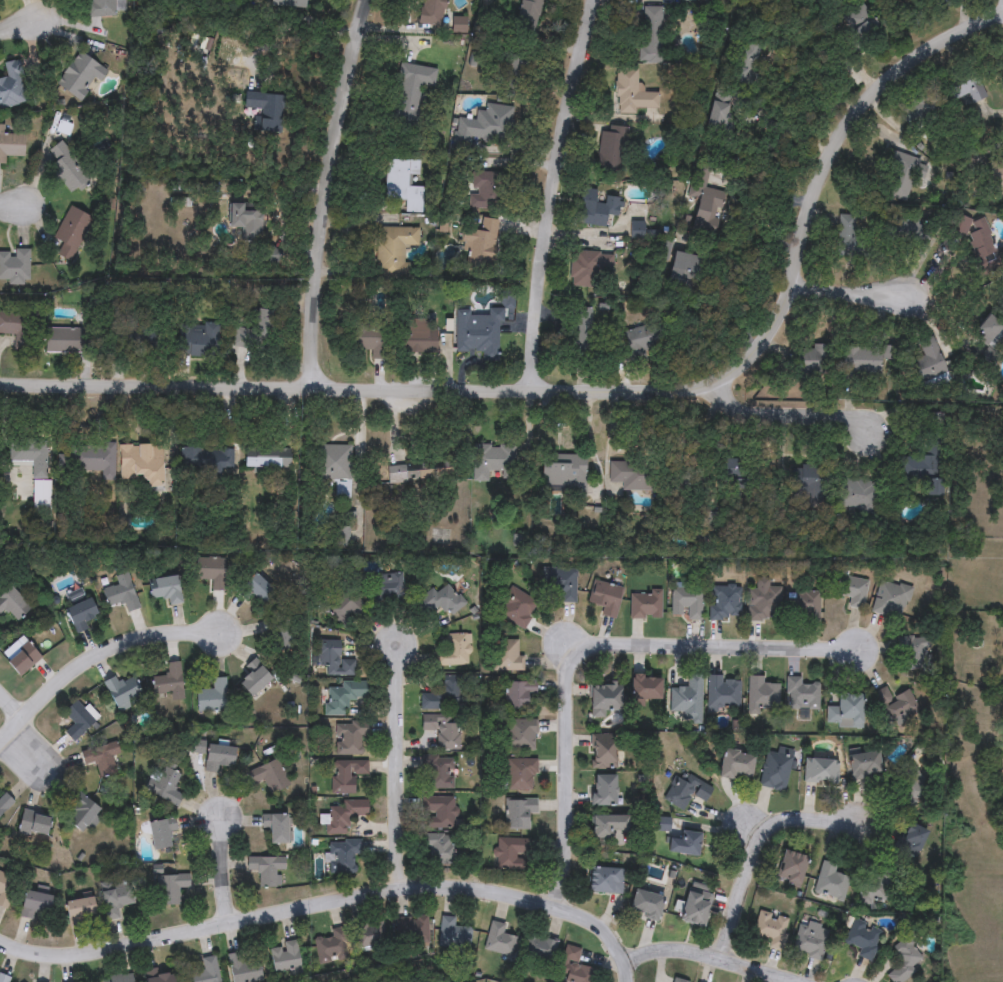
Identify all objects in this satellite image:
building: (289, 4)
building: (942, 4)
building: (102, 8)
building: (431, 12)
building: (461, 25)
road: (17, 26)
building: (861, 27)
building: (649, 32)
building: (78, 76)
building: (13, 86)
building: (963, 86)
building: (410, 91)
building: (632, 93)
building: (913, 115)
building: (485, 128)
road: (791, 134)
building: (10, 146)
building: (611, 150)
building: (68, 168)
building: (901, 177)
building: (995, 180)
building: (402, 184)
building: (487, 191)
road: (329, 193)
road: (552, 197)
building: (703, 203)
road: (18, 207)
building: (597, 208)
building: (246, 220)
building: (905, 230)
building: (71, 234)
building: (852, 240)
building: (981, 243)
building: (480, 247)
building: (393, 251)
building: (682, 263)
building: (14, 267)
building: (590, 270)
road: (847, 296)
building: (16, 328)
building: (257, 329)
building: (987, 331)
building: (582, 333)
building: (479, 334)
building: (415, 337)
building: (369, 339)
building: (197, 340)
building: (70, 341)
building: (135, 341)
building: (642, 341)
building: (866, 359)
building: (814, 361)
building: (928, 362)
road: (607, 398)
road: (793, 405)
building: (266, 459)
building: (88, 460)
building: (207, 460)
building: (491, 461)
building: (926, 462)
building: (333, 463)
building: (140, 466)
building: (35, 471)
building: (563, 472)
building: (418, 473)
building: (634, 474)
building: (808, 476)
building: (858, 500)
building: (211, 572)
building: (565, 586)
building: (389, 588)
building: (167, 590)
building: (256, 590)
building: (854, 592)
building: (121, 594)
building: (605, 599)
building: (890, 600)
building: (439, 602)
building: (763, 602)
building: (725, 603)
building: (687, 604)
building: (12, 605)
building: (646, 606)
building: (804, 607)
building: (346, 608)
building: (517, 609)
building: (79, 615)
building: (279, 633)
building: (452, 652)
road: (592, 654)
road: (97, 655)
building: (917, 655)
building: (507, 657)
building: (22, 660)
building: (333, 661)
building: (253, 682)
building: (170, 683)
building: (646, 689)
building: (123, 692)
building: (724, 694)
building: (444, 695)
building: (802, 695)
building: (518, 696)
building: (762, 696)
building: (343, 697)
building: (213, 698)
building: (604, 700)
building: (688, 700)
building: (898, 706)
road: (10, 708)
building: (844, 712)
building: (77, 720)
building: (443, 731)
building: (520, 736)
building: (350, 738)
building: (604, 752)
building: (101, 758)
building: (217, 758)
building: (735, 765)
building: (864, 766)
road: (398, 768)
building: (777, 769)
building: (822, 771)
building: (439, 774)
building: (521, 775)
building: (347, 776)
building: (270, 777)
building: (166, 787)
building: (910, 788)
building: (604, 791)
building: (686, 792)
building: (4, 803)
building: (80, 814)
building: (440, 814)
building: (519, 814)
building: (345, 815)
building: (34, 825)
building: (607, 826)
building: (276, 829)
building: (161, 833)
building: (909, 841)
building: (682, 845)
building: (439, 850)
road: (755, 851)
building: (511, 853)
building: (343, 857)
building: (790, 869)
road: (221, 870)
building: (266, 871)
building: (604, 881)
building: (830, 884)
building: (169, 889)
building: (876, 889)
building: (6, 890)
building: (116, 902)
road: (329, 902)
building: (644, 904)
building: (35, 907)
building: (693, 908)
building: (80, 910)
building: (771, 930)
building: (414, 931)
building: (371, 935)
building: (453, 935)
building: (863, 940)
building: (499, 941)
building: (810, 941)
building: (331, 949)
building: (539, 951)
building: (286, 957)
building: (905, 961)
road: (700, 962)
building: (573, 967)
building: (243, 968)
building: (207, 971)
building: (159, 978)
building: (4, 979)
building: (119, 979)
building: (676, 981)

